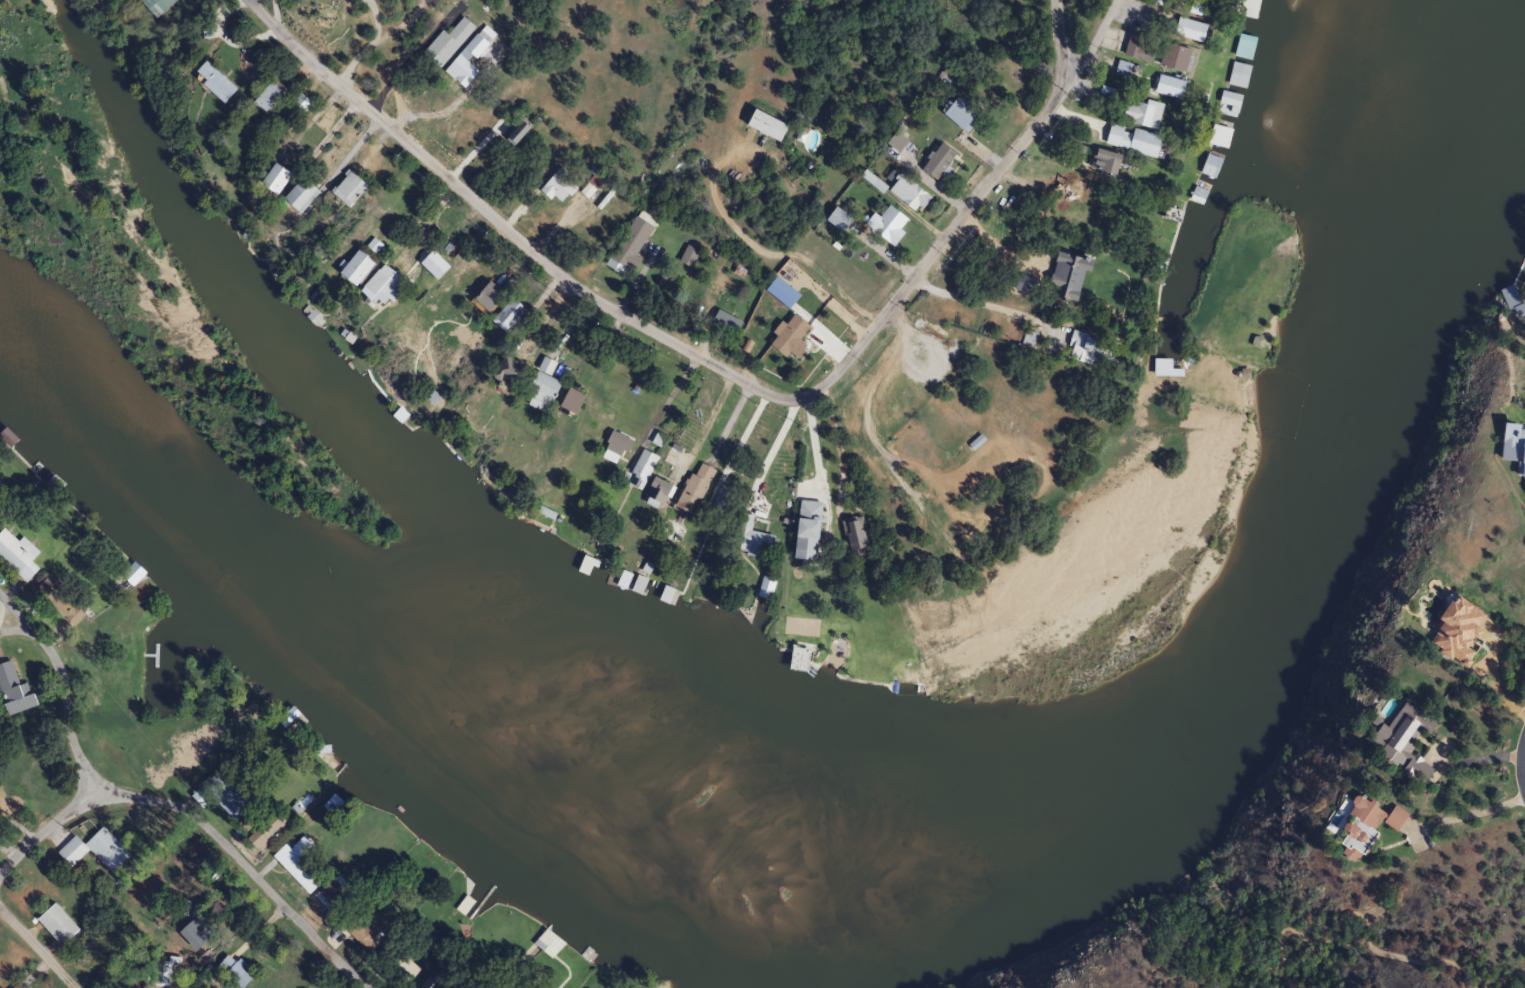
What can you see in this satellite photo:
river: (1509, 1)
building: (151, 6)
building: (1246, 9)
building: (1185, 30)
building: (446, 40)
building: (1132, 49)
road: (1086, 50)
building: (1242, 50)
building: (1169, 58)
building: (463, 62)
building: (1119, 69)
building: (1237, 75)
building: (209, 81)
building: (1164, 87)
building: (260, 98)
building: (1228, 101)
building: (957, 114)
building: (1139, 114)
building: (761, 126)
building: (1217, 137)
building: (1128, 141)
building: (1208, 167)
building: (271, 179)
building: (552, 188)
building: (1070, 188)
building: (345, 189)
building: (905, 194)
building: (295, 196)
building: (883, 226)
building: (628, 244)
building: (684, 256)
building: (350, 268)
building: (1028, 270)
building: (373, 289)
building: (487, 295)
building: (314, 313)
building: (505, 316)
building: (721, 324)
building: (1027, 340)
building: (785, 348)
building: (1084, 350)
road: (711, 364)
building: (537, 387)
building: (566, 402)
building: (401, 412)
road: (708, 420)
building: (8, 431)
building: (612, 447)
road: (879, 449)
building: (37, 467)
building: (637, 470)
building: (55, 483)
building: (690, 490)
building: (654, 491)
building: (749, 538)
building: (16, 558)
building: (587, 562)
building: (131, 571)
building: (620, 575)
building: (637, 582)
building: (764, 588)
building: (40, 592)
building: (663, 593)
road: (9, 603)
building: (70, 612)
road: (9, 619)
building: (1455, 631)
building: (799, 657)
building: (12, 692)
building: (288, 715)
building: (1401, 742)
building: (318, 747)
road: (1519, 761)
building: (224, 794)
road: (168, 802)
building: (397, 809)
building: (1363, 825)
building: (258, 826)
road: (44, 829)
building: (448, 845)
building: (91, 850)
building: (296, 863)
river: (932, 889)
building: (331, 894)
building: (465, 905)
building: (53, 924)
building: (356, 931)
building: (186, 937)
building: (547, 943)
road: (36, 948)
building: (396, 965)
building: (230, 971)
building: (155, 973)

